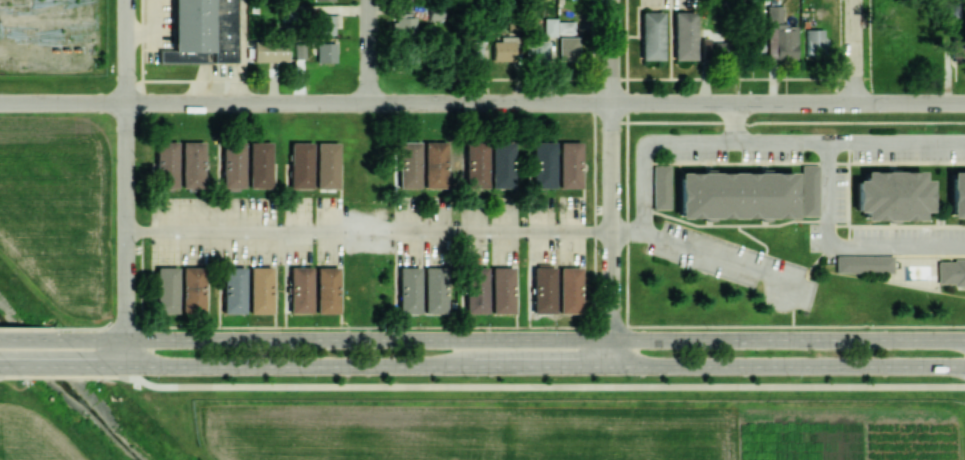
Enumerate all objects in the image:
building: (323, 0)
building: (403, 23)
building: (324, 24)
road: (152, 28)
building: (202, 31)
building: (651, 35)
building: (683, 36)
building: (779, 36)
building: (562, 37)
building: (814, 43)
building: (754, 45)
building: (712, 46)
building: (470, 49)
building: (503, 49)
road: (854, 49)
building: (270, 50)
building: (299, 50)
road: (368, 50)
building: (536, 50)
building: (957, 50)
road: (241, 51)
building: (325, 52)
road: (788, 99)
road: (306, 101)
road: (735, 121)
road: (787, 121)
road: (644, 142)
road: (850, 142)
building: (259, 164)
building: (408, 164)
building: (434, 164)
building: (475, 164)
building: (502, 164)
building: (543, 164)
building: (166, 165)
building: (191, 165)
building: (233, 165)
building: (300, 165)
building: (326, 165)
building: (569, 165)
road: (127, 181)
road: (612, 183)
building: (660, 187)
building: (808, 190)
building: (956, 194)
building: (734, 195)
building: (891, 195)
road: (369, 233)
road: (627, 233)
road: (843, 247)
road: (717, 258)
building: (863, 263)
building: (950, 272)
building: (191, 289)
building: (299, 289)
building: (569, 289)
building: (166, 290)
building: (233, 290)
building: (259, 290)
building: (326, 290)
building: (408, 290)
building: (434, 290)
building: (475, 290)
building: (501, 290)
building: (543, 290)
road: (633, 325)
road: (455, 326)
road: (31, 337)
road: (513, 338)
road: (4, 364)
road: (49, 364)
road: (526, 367)
road: (1, 375)
road: (71, 375)
river: (72, 385)
road: (550, 387)
crop: (580, 429)
crop: (36, 434)

